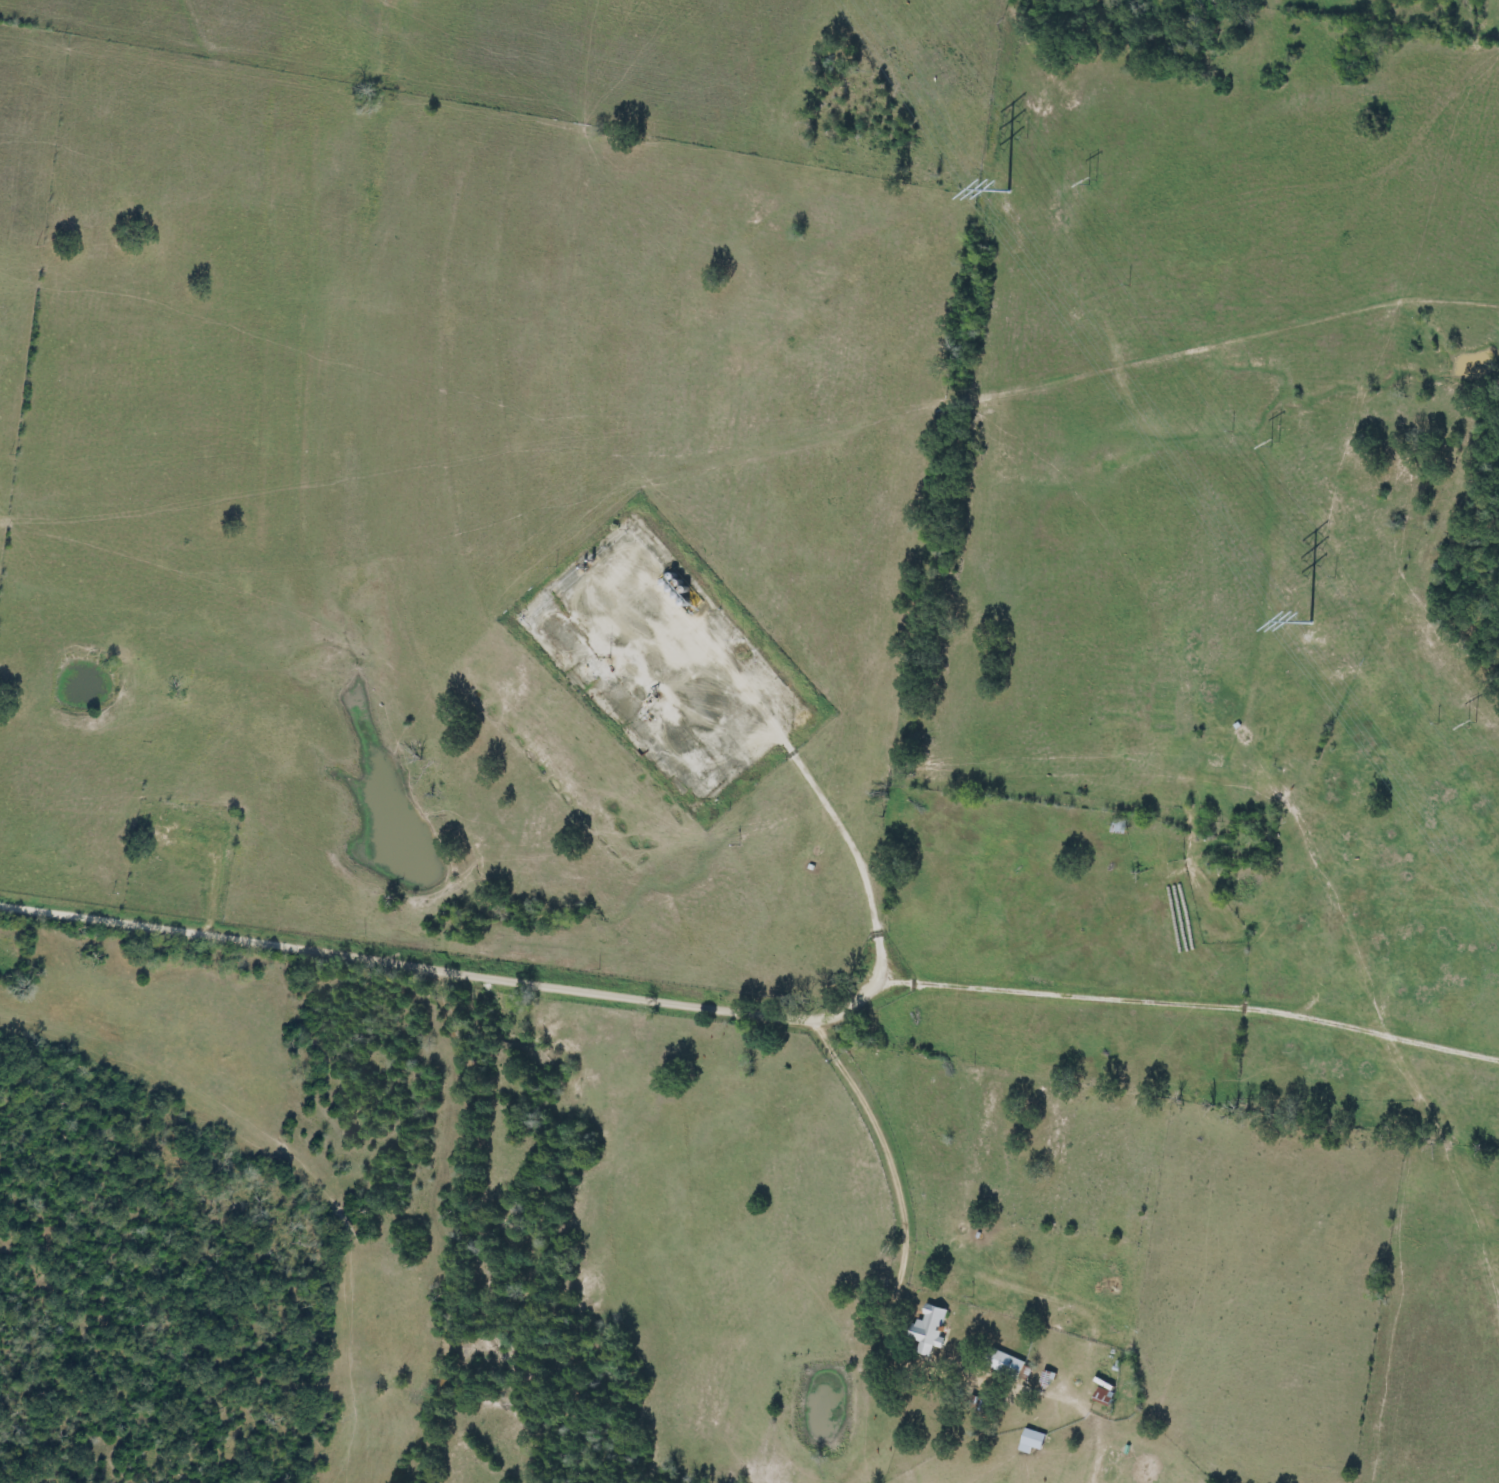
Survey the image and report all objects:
power tower: (1091, 183)
power tower: (1008, 185)
power tower: (1274, 443)
power tower: (1310, 615)
power tower: (1473, 723)
road: (458, 972)
building: (1003, 1363)
building: (1103, 1395)
building: (1030, 1441)

